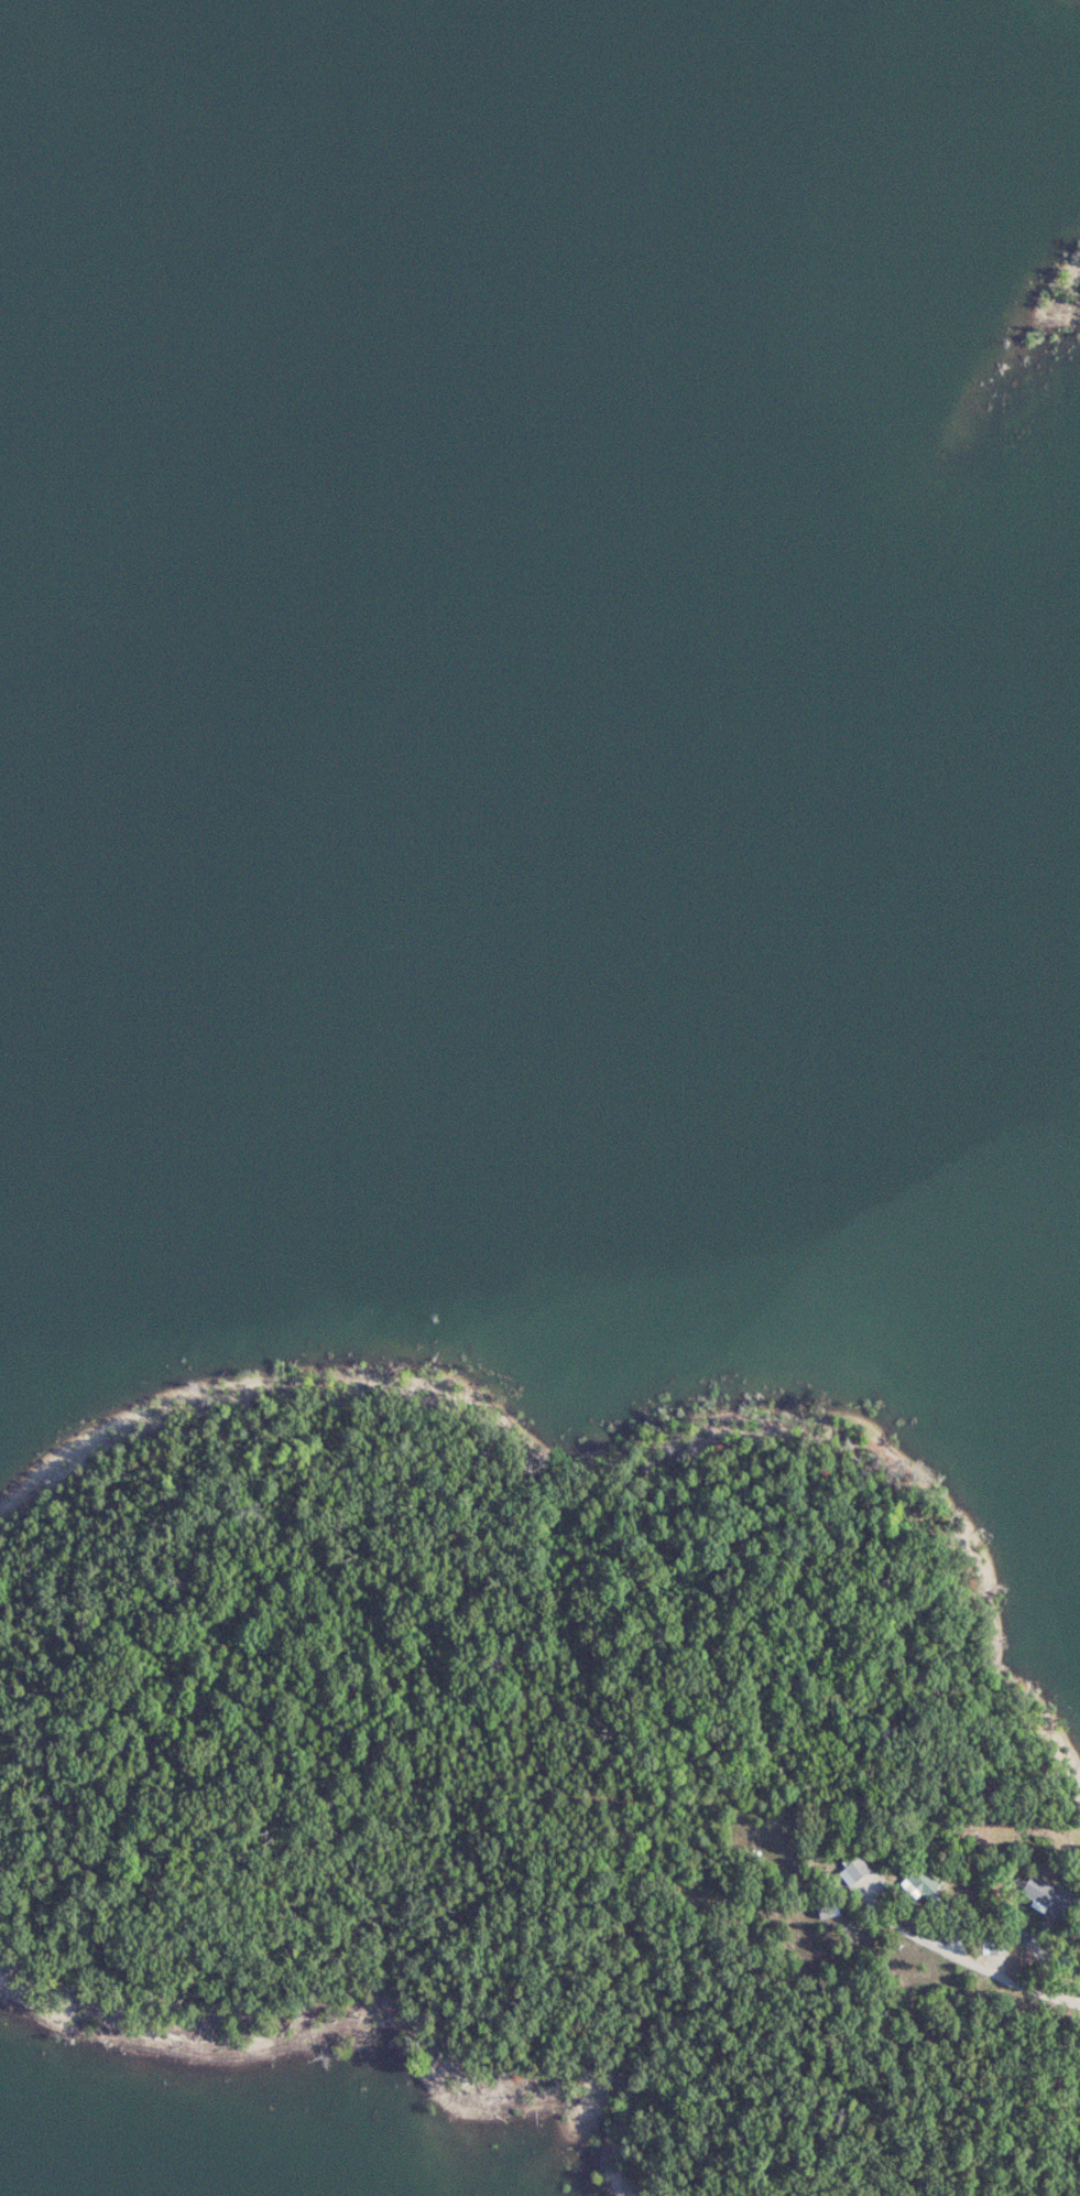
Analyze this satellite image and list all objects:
building: (852, 1869)
building: (919, 1883)
road: (977, 1967)

